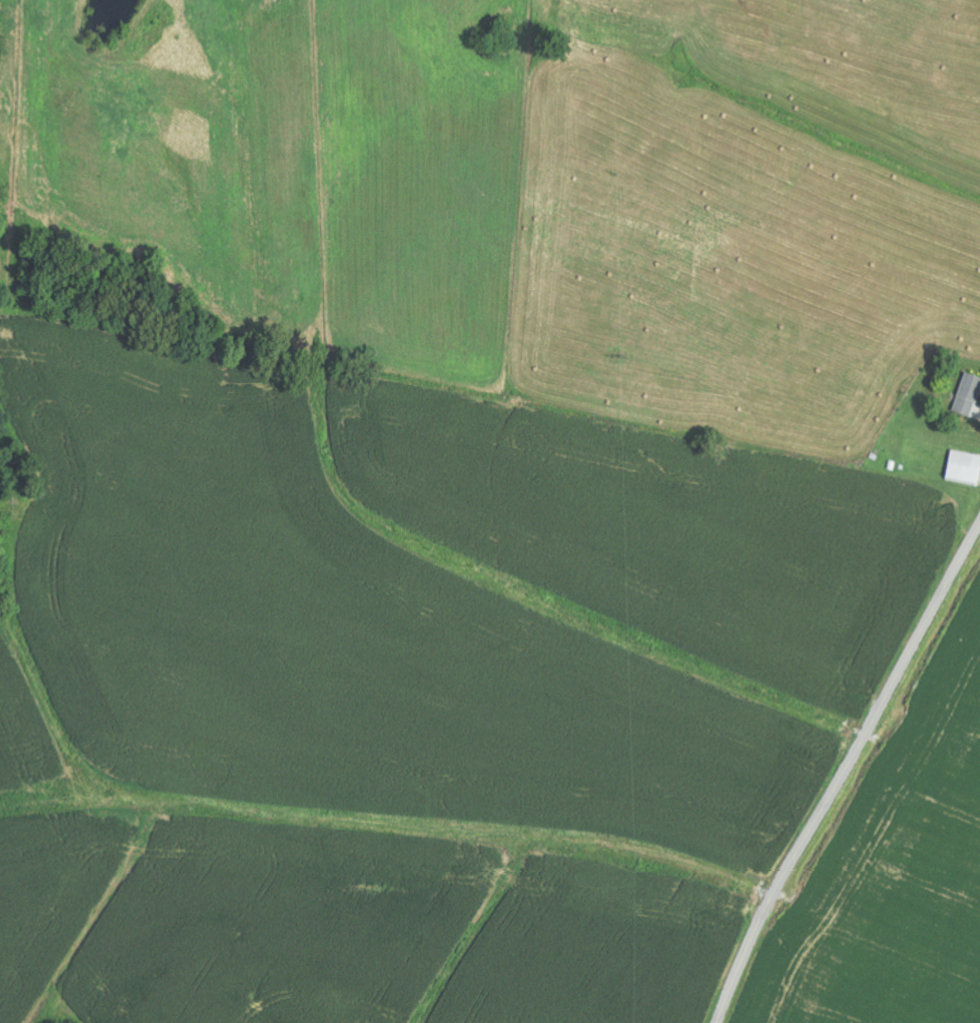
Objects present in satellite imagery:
building: (968, 395)
building: (963, 468)
road: (845, 774)

